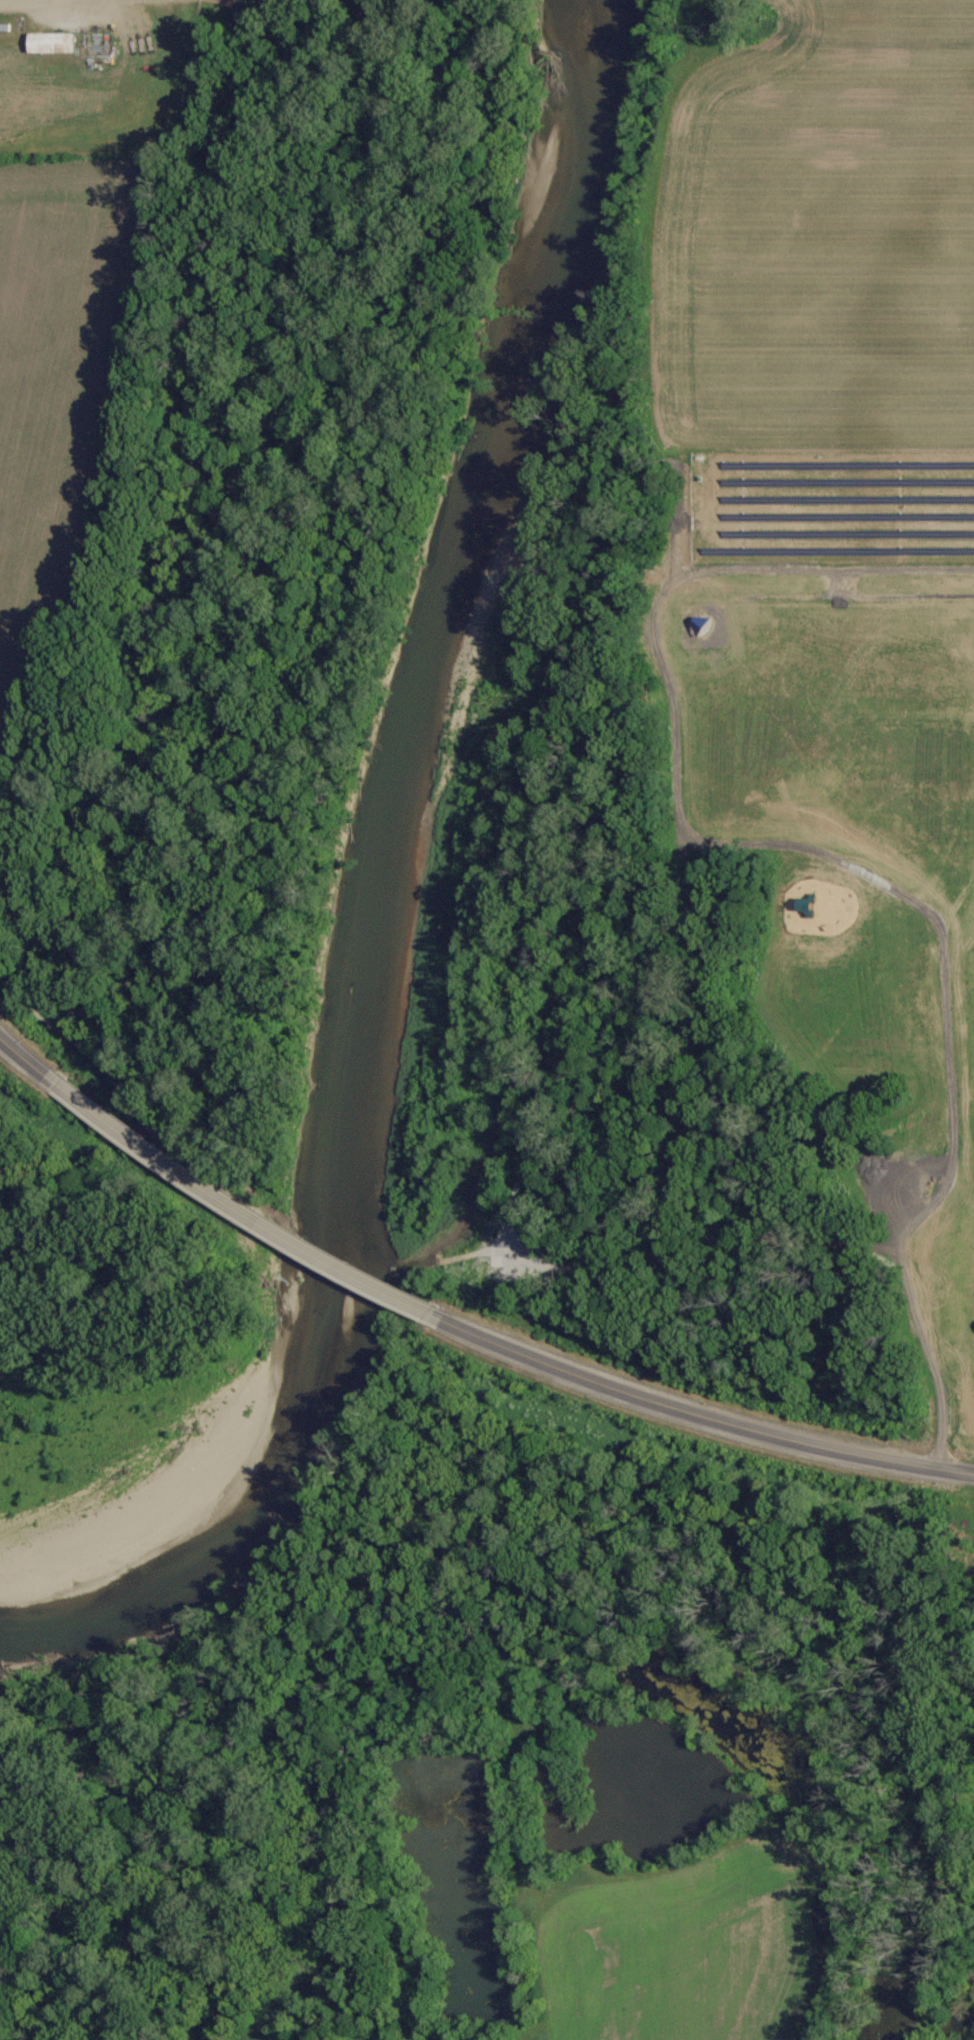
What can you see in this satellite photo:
road: (15, 1)
building: (51, 44)
power substation: (91, 75)
river: (422, 868)
road: (29, 1059)
road: (243, 1210)
road: (700, 1413)

